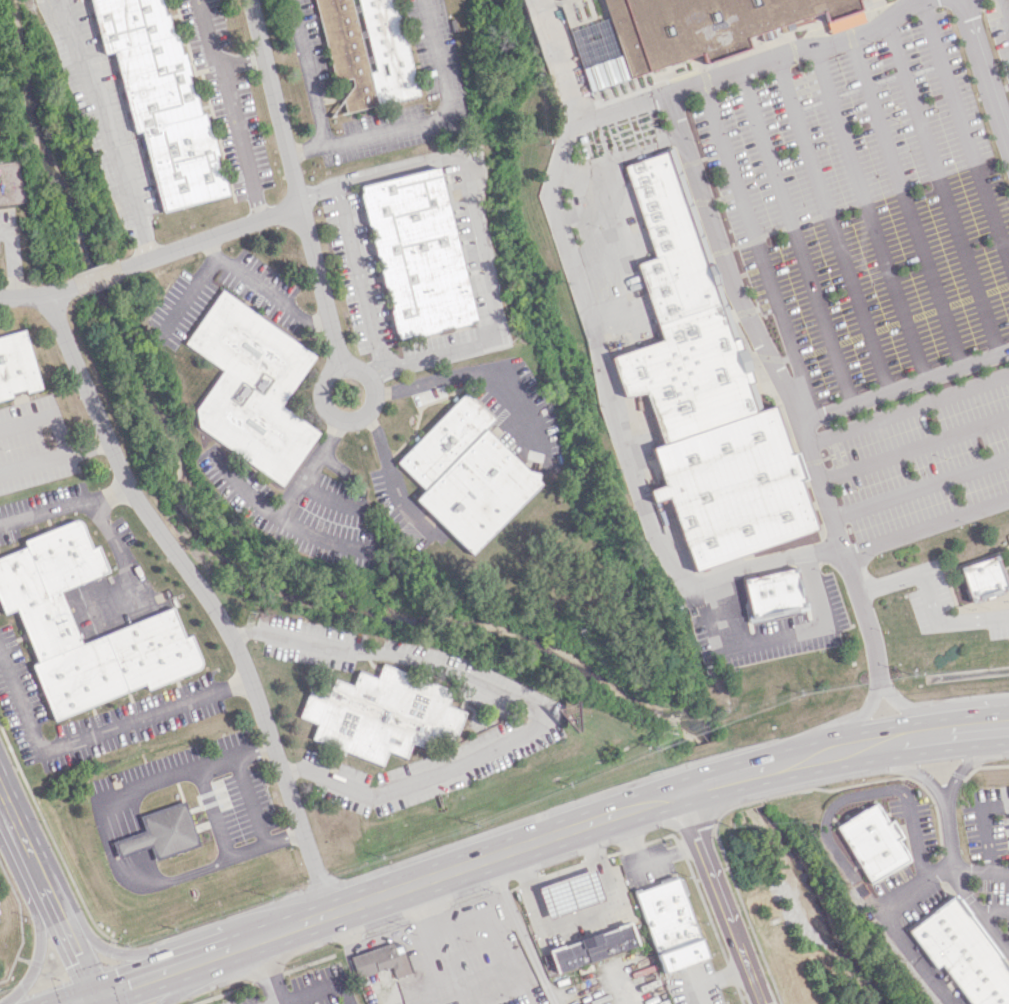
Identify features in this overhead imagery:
road: (1003, 16)
building: (697, 26)
parking lot: (999, 31)
building: (384, 34)
road: (747, 59)
road: (241, 62)
road: (984, 71)
road: (308, 72)
building: (159, 99)
road: (230, 110)
road: (442, 116)
road: (105, 129)
road: (965, 129)
road: (307, 150)
road: (940, 181)
road: (294, 184)
road: (903, 194)
road: (864, 207)
parking lot: (866, 207)
road: (470, 219)
road: (828, 219)
road: (791, 232)
road: (210, 238)
road: (756, 244)
building: (416, 253)
road: (12, 258)
road: (98, 277)
road: (356, 277)
road: (196, 283)
road: (61, 290)
road: (23, 293)
road: (270, 293)
road: (581, 296)
building: (16, 365)
road: (377, 370)
road: (472, 373)
road: (904, 381)
road: (784, 385)
building: (251, 387)
building: (702, 395)
road: (908, 409)
road: (354, 415)
road: (45, 419)
road: (914, 446)
parking lot: (921, 455)
road: (55, 459)
building: (466, 474)
road: (389, 478)
road: (920, 490)
road: (65, 502)
road: (284, 504)
road: (319, 535)
road: (851, 552)
road: (124, 570)
building: (981, 577)
building: (770, 593)
road: (203, 596)
road: (930, 596)
building: (46, 624)
road: (781, 636)
road: (523, 708)
road: (915, 712)
building: (380, 713)
road: (859, 721)
road: (999, 727)
road: (971, 730)
road: (94, 731)
road: (912, 738)
road: (856, 748)
road: (966, 761)
road: (984, 765)
road: (760, 768)
road: (908, 769)
road: (186, 770)
road: (933, 770)
parking lot: (211, 792)
road: (856, 797)
road: (250, 800)
road: (756, 800)
road: (210, 814)
road: (984, 825)
building: (168, 830)
road: (143, 836)
road: (134, 838)
road: (914, 838)
road: (118, 840)
road: (127, 841)
building: (871, 841)
building: (130, 843)
road: (263, 845)
road: (27, 848)
road: (642, 865)
road: (687, 865)
road: (849, 870)
road: (979, 870)
road: (435, 875)
road: (130, 884)
building: (570, 893)
road: (721, 897)
road: (902, 902)
road: (992, 908)
road: (979, 912)
road: (430, 915)
building: (669, 924)
road: (520, 931)
road: (493, 938)
building: (592, 947)
road: (75, 948)
road: (111, 951)
road: (1008, 951)
road: (37, 954)
building: (962, 954)
building: (380, 960)
road: (264, 971)
road: (429, 971)
road: (729, 974)
road: (142, 978)
road: (709, 980)
road: (173, 983)
road: (316, 988)
traffic signals: (97, 994)
road: (737, 994)
road: (82, 999)
road: (99, 999)
road: (424, 999)
road: (273, 1003)

